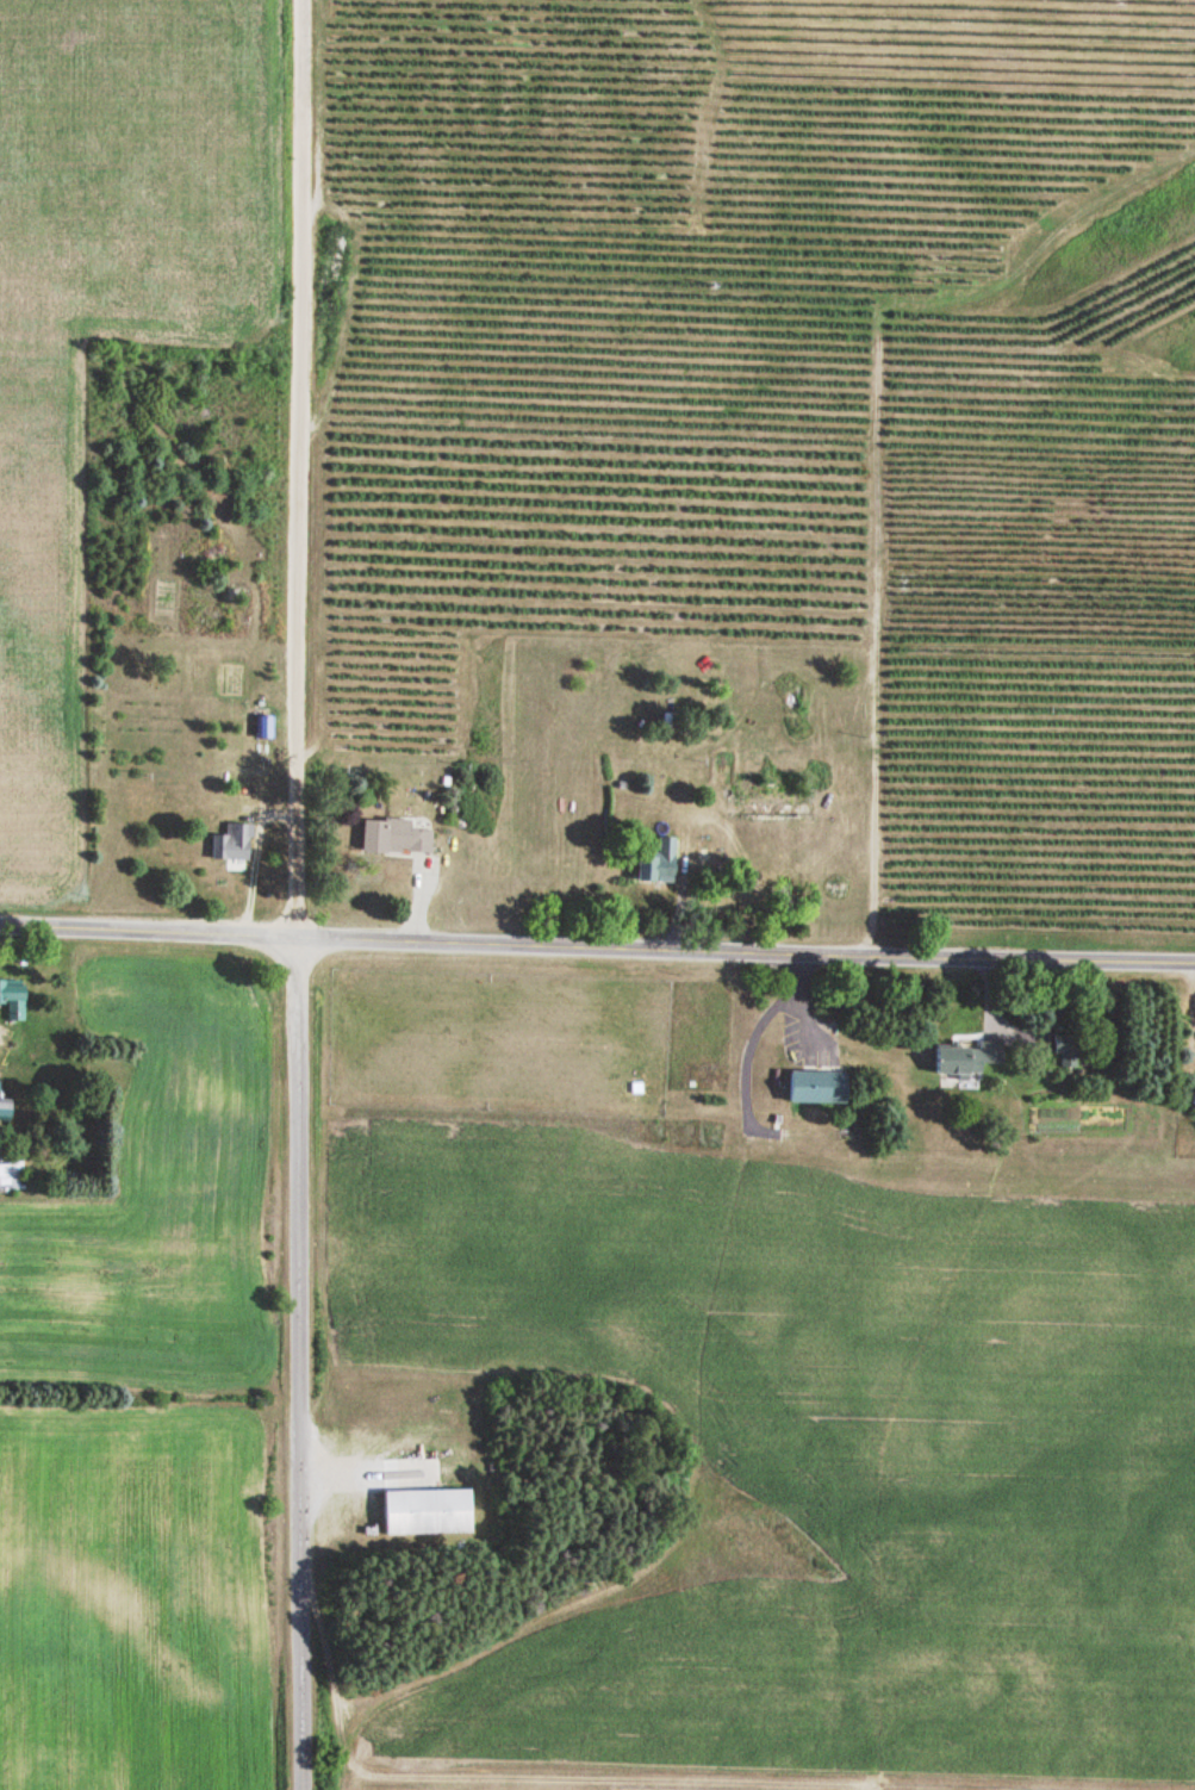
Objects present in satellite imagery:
road: (294, 470)
building: (262, 729)
building: (758, 804)
building: (391, 839)
building: (230, 845)
building: (658, 864)
road: (597, 939)
building: (11, 999)
building: (1063, 1052)
building: (953, 1062)
building: (814, 1087)
building: (10, 1177)
road: (297, 1365)
building: (423, 1512)
building: (622, 1608)

